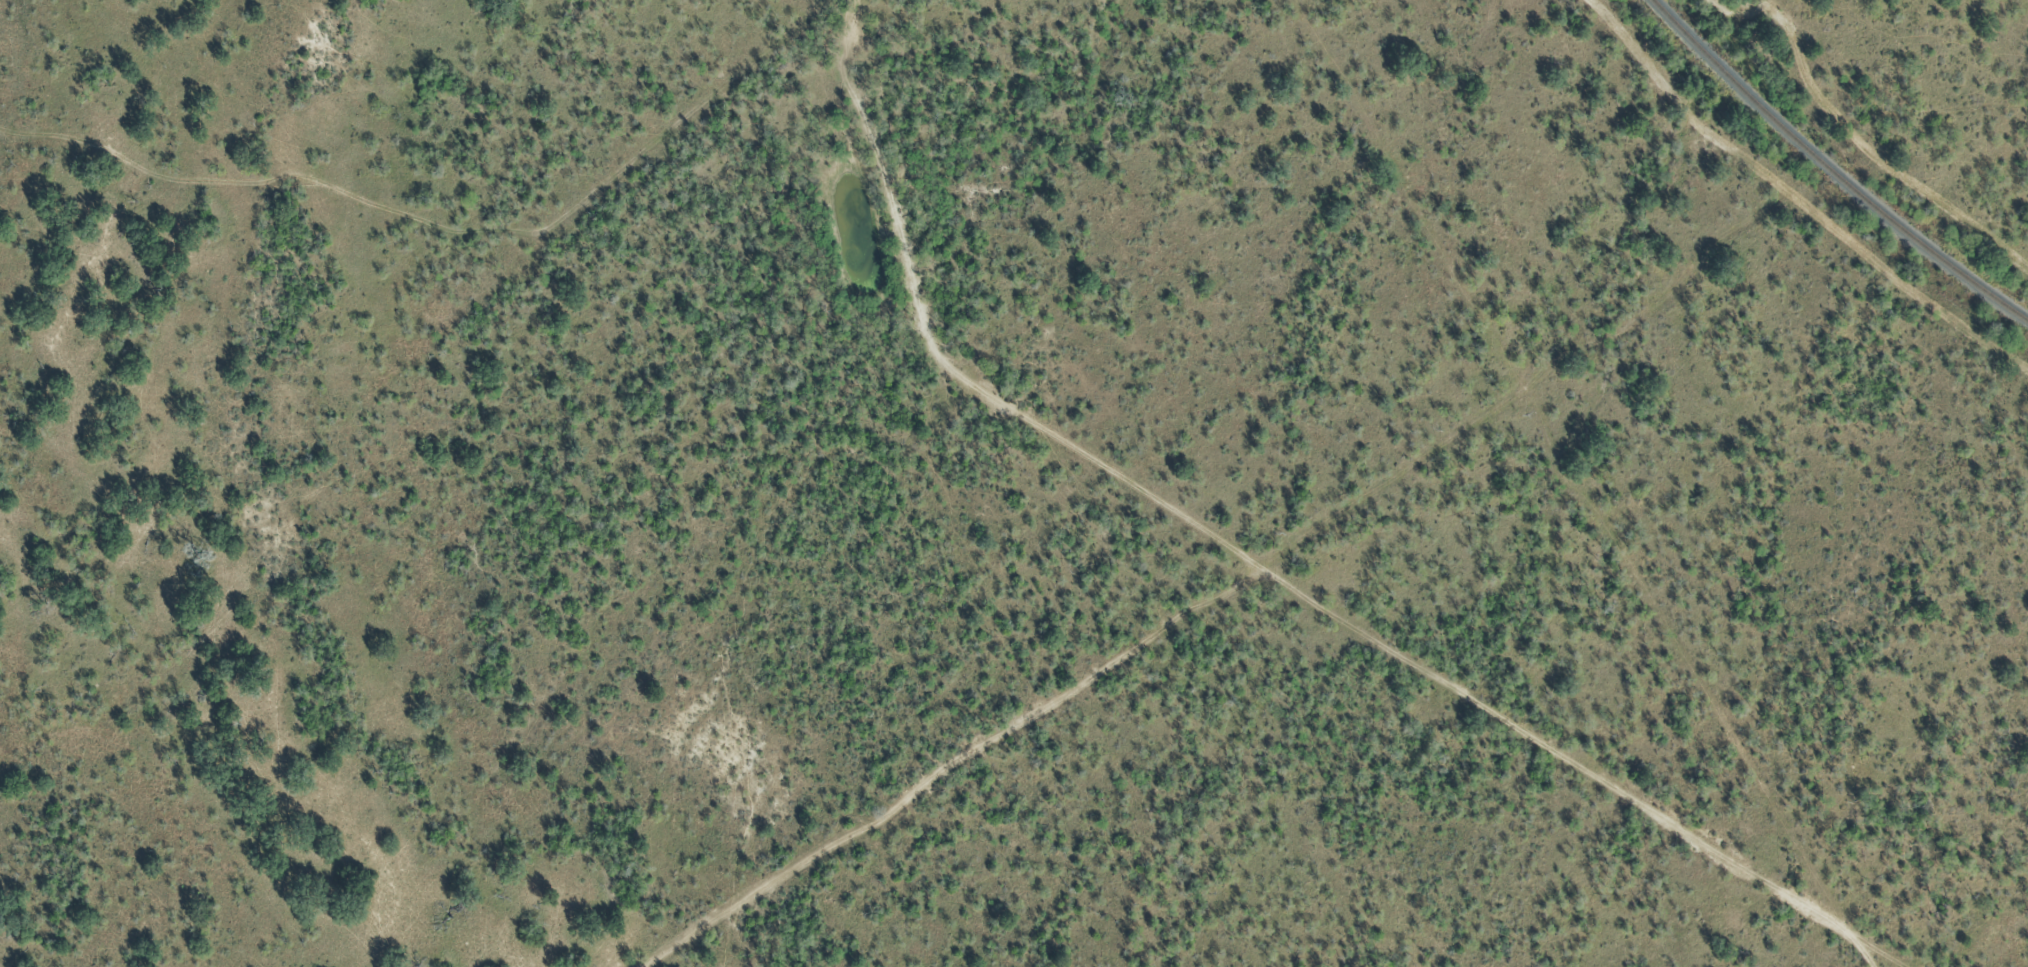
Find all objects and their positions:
railway: (1830, 169)

